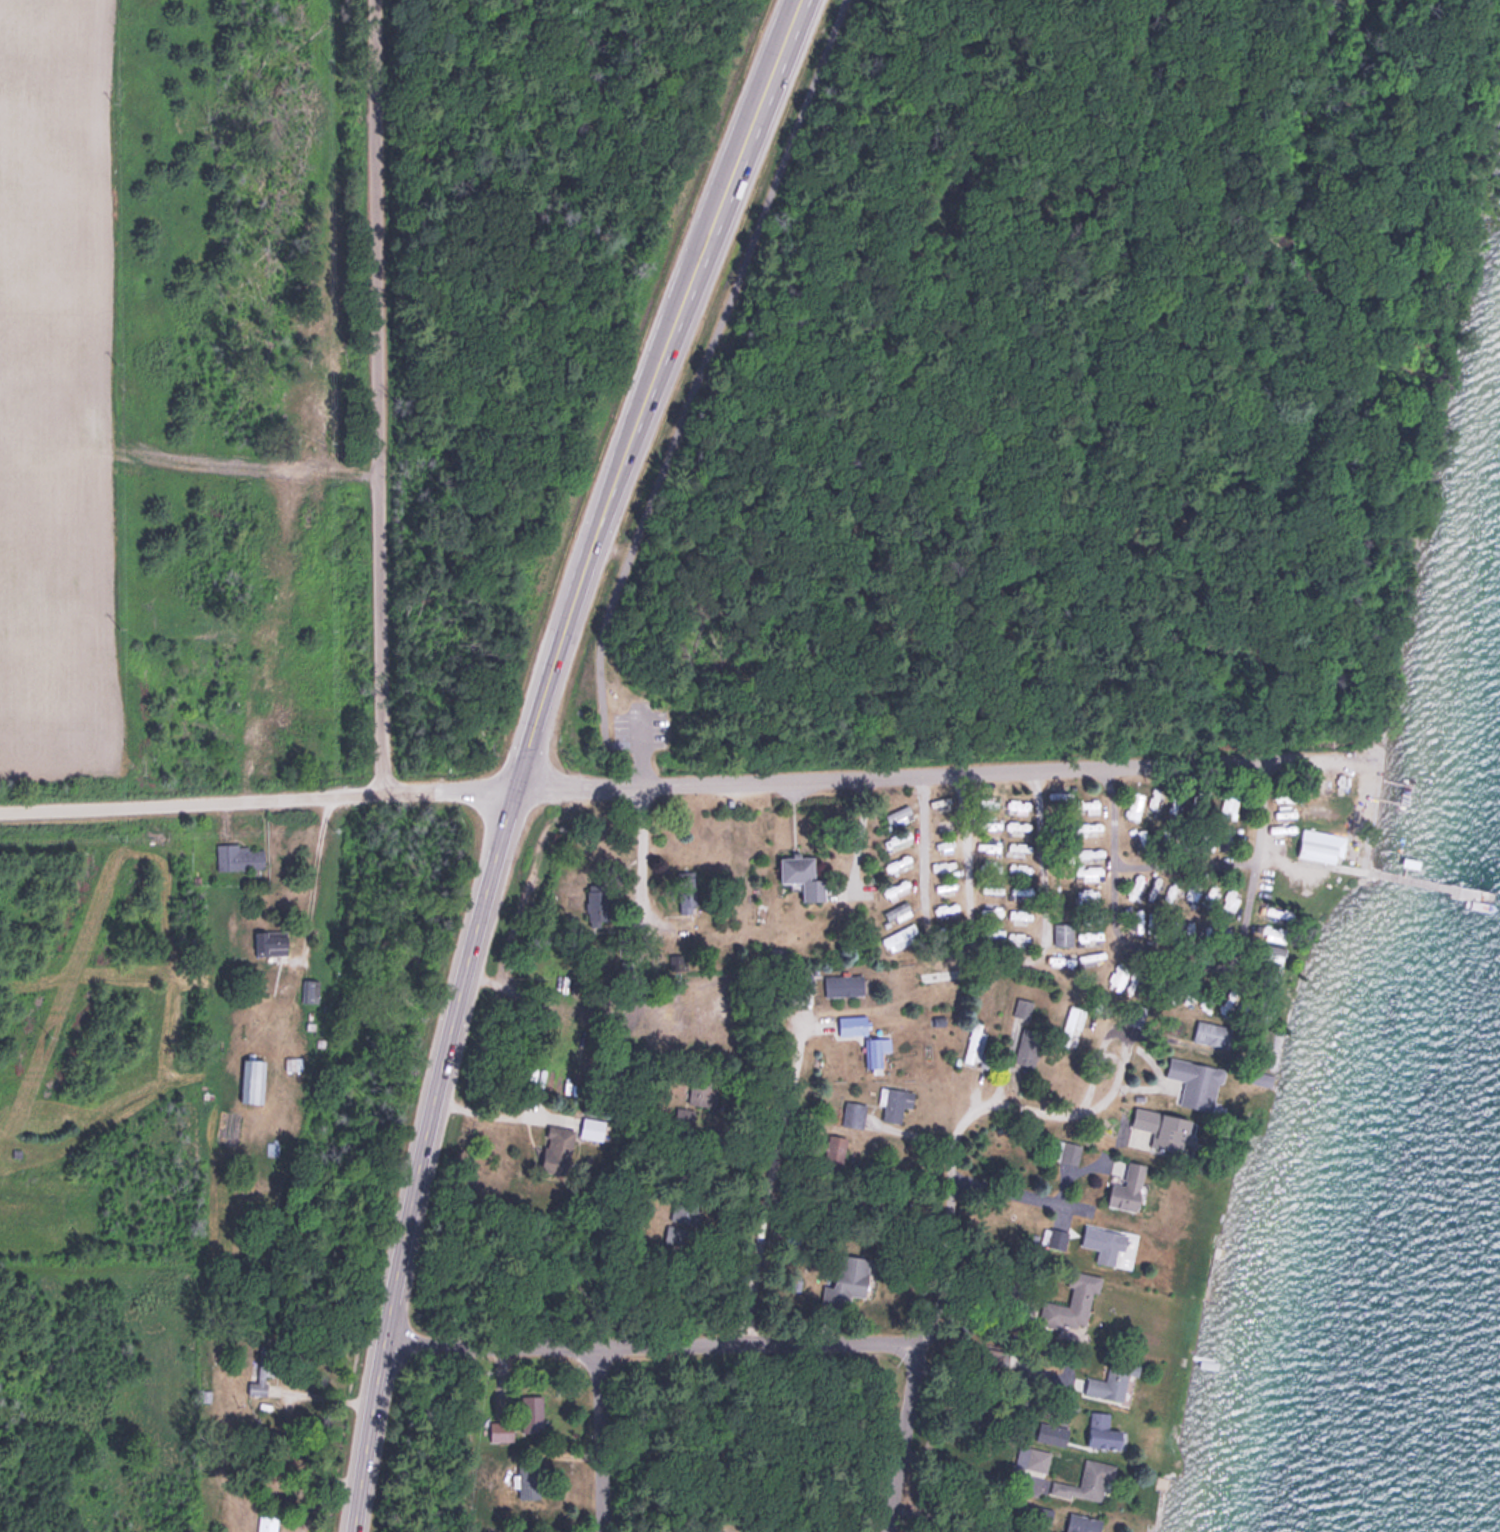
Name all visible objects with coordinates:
road: (733, 188)
road: (705, 374)
road: (374, 396)
road: (1137, 531)
road: (581, 579)
parking lot: (630, 720)
road: (638, 748)
road: (891, 776)
building: (1287, 794)
road: (257, 797)
building: (1153, 801)
building: (1176, 801)
building: (1133, 803)
building: (1229, 803)
building: (1087, 804)
building: (1015, 805)
building: (899, 814)
building: (1015, 825)
building: (1088, 827)
building: (1141, 836)
building: (895, 838)
building: (1225, 838)
building: (1017, 845)
building: (1320, 845)
building: (1088, 851)
building: (240, 856)
road: (1235, 860)
building: (1018, 867)
building: (1085, 870)
building: (803, 875)
road: (313, 878)
road: (639, 880)
pier: (1435, 884)
building: (895, 889)
building: (1138, 889)
building: (1209, 890)
building: (1020, 891)
building: (1086, 894)
road: (1044, 898)
building: (1230, 898)
building: (687, 899)
building: (597, 901)
building: (901, 910)
building: (944, 910)
building: (1279, 914)
building: (1136, 921)
building: (1273, 931)
building: (1063, 933)
building: (901, 935)
building: (1020, 938)
building: (270, 941)
road: (1139, 946)
road: (953, 952)
building: (1061, 957)
building: (1087, 957)
building: (677, 960)
building: (1115, 972)
building: (942, 974)
building: (1133, 976)
building: (843, 982)
building: (1155, 982)
building: (309, 989)
building: (1023, 1006)
building: (1134, 1013)
building: (849, 1022)
building: (1072, 1024)
building: (1212, 1032)
building: (974, 1041)
building: (1027, 1044)
building: (873, 1049)
building: (252, 1078)
building: (1196, 1081)
building: (702, 1089)
building: (895, 1101)
road: (1032, 1106)
building: (853, 1112)
road: (504, 1113)
building: (592, 1126)
building: (1164, 1127)
building: (835, 1146)
building: (558, 1147)
building: (1066, 1149)
road: (423, 1157)
building: (1126, 1182)
road: (773, 1188)
road: (1020, 1193)
building: (685, 1210)
building: (675, 1233)
building: (1055, 1237)
building: (1108, 1243)
building: (847, 1279)
building: (1072, 1302)
road: (649, 1344)
building: (261, 1369)
road: (987, 1381)
building: (1109, 1381)
road: (908, 1389)
building: (532, 1412)
building: (501, 1429)
building: (1103, 1430)
road: (604, 1437)
building: (1035, 1459)
building: (528, 1479)
building: (1087, 1480)
road: (944, 1519)
building: (268, 1522)
building: (1083, 1523)

